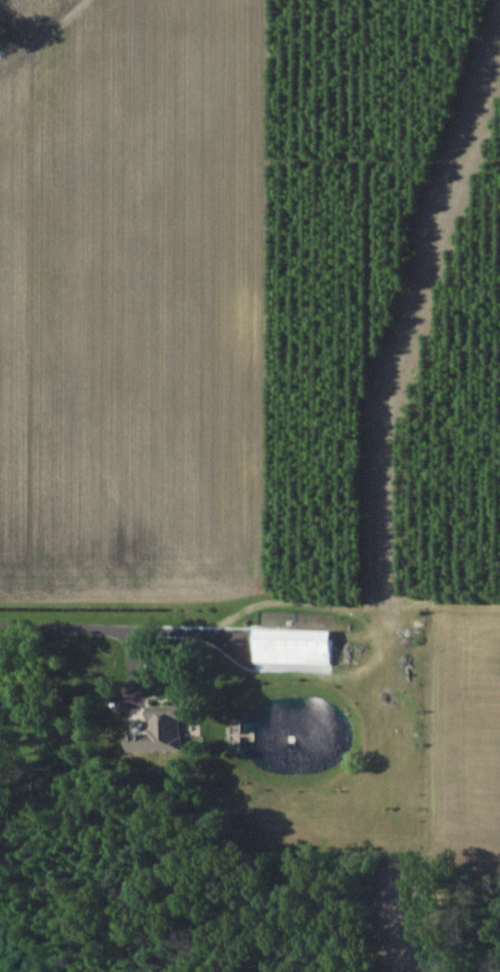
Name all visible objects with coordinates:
road: (124, 629)
building: (294, 644)
building: (157, 735)

